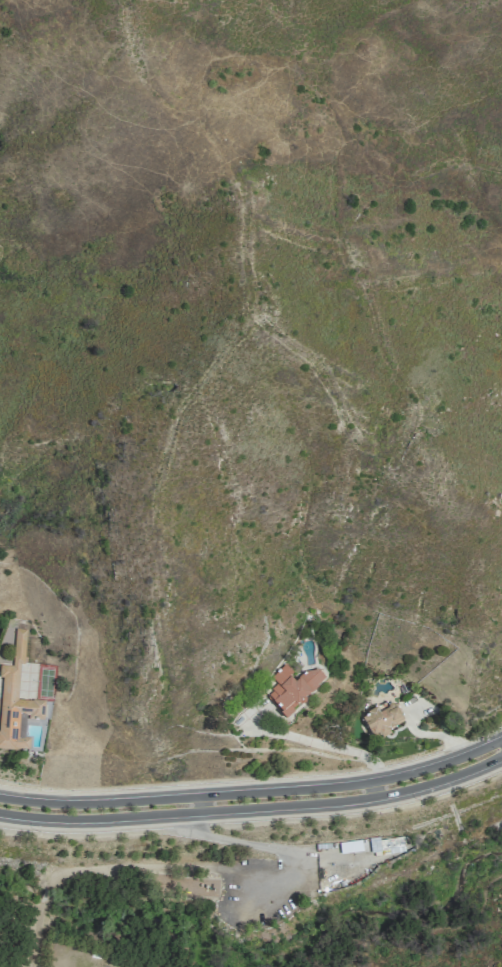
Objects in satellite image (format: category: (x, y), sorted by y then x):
road: (364, 346)
building: (293, 688)
building: (16, 701)
building: (381, 720)
road: (499, 746)
road: (339, 747)
road: (499, 749)
road: (251, 800)
road: (188, 867)
road: (414, 933)

